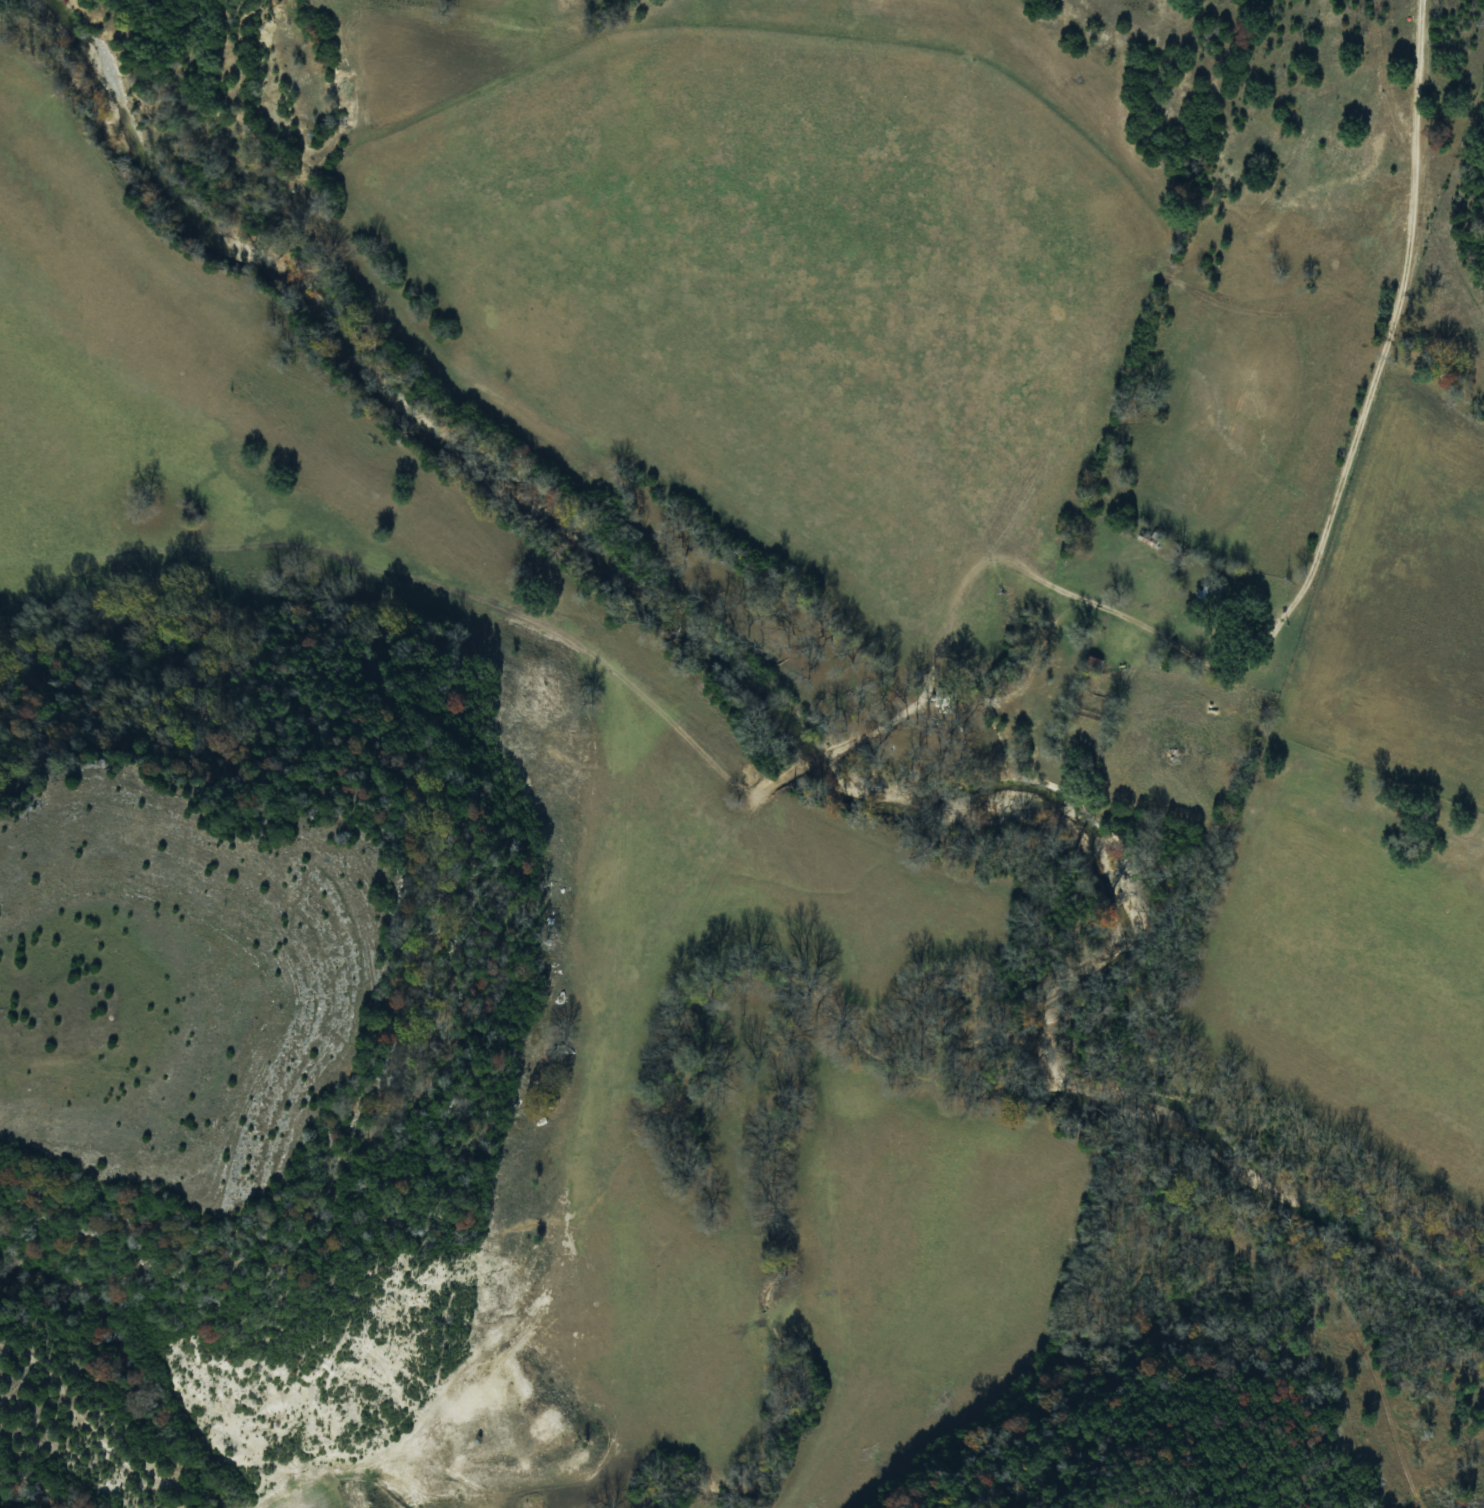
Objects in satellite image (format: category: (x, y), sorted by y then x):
road: (1375, 320)
building: (1093, 667)

